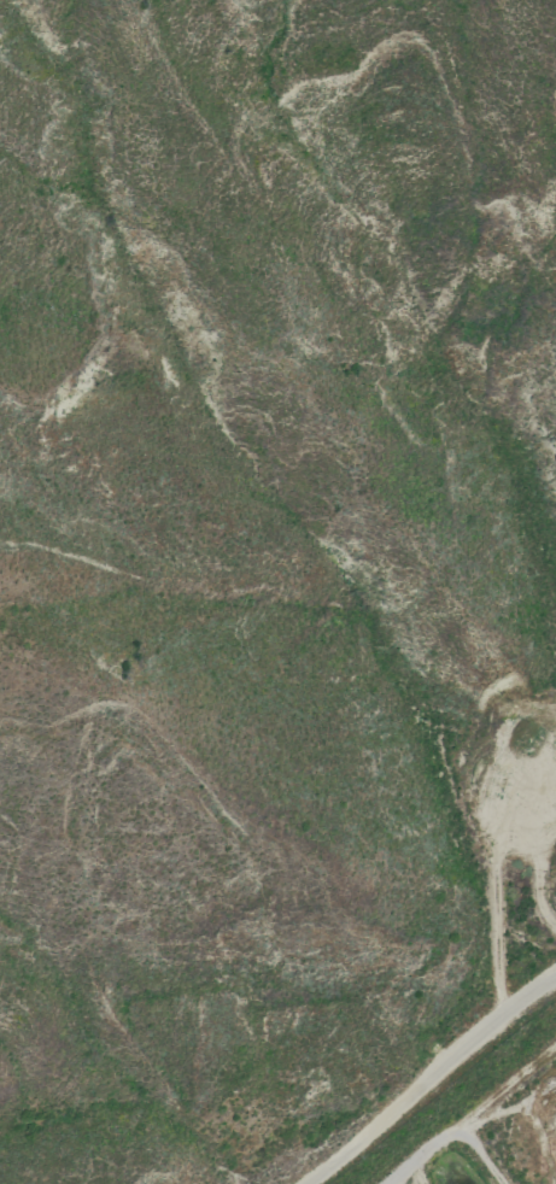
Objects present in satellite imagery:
road: (434, 1085)

